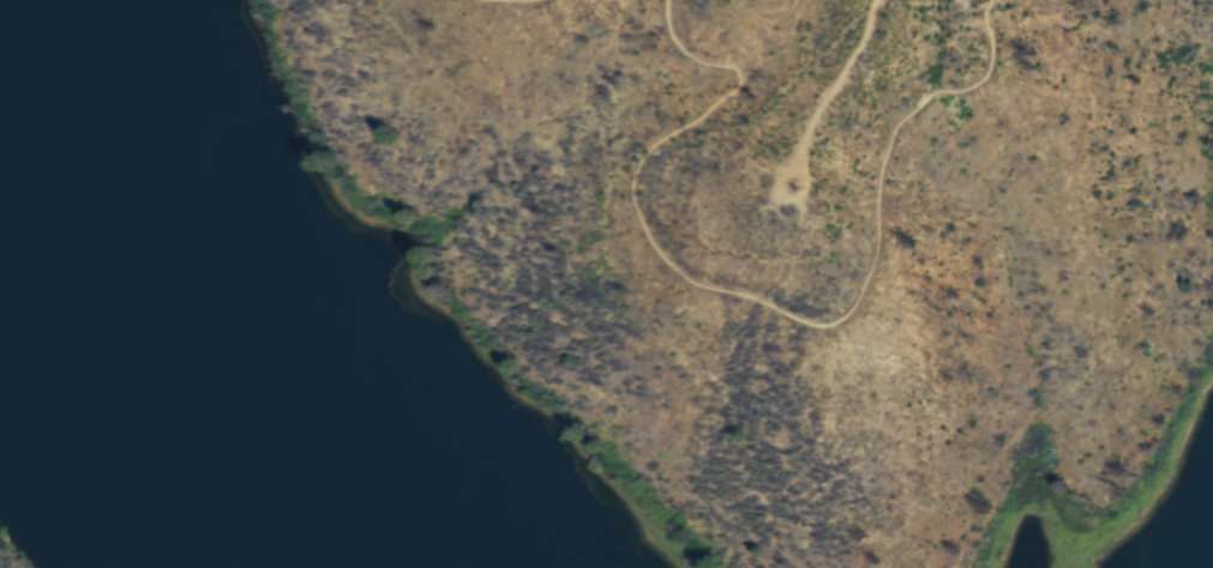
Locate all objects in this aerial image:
road: (835, 84)
road: (809, 179)
road: (773, 308)
river: (169, 321)

